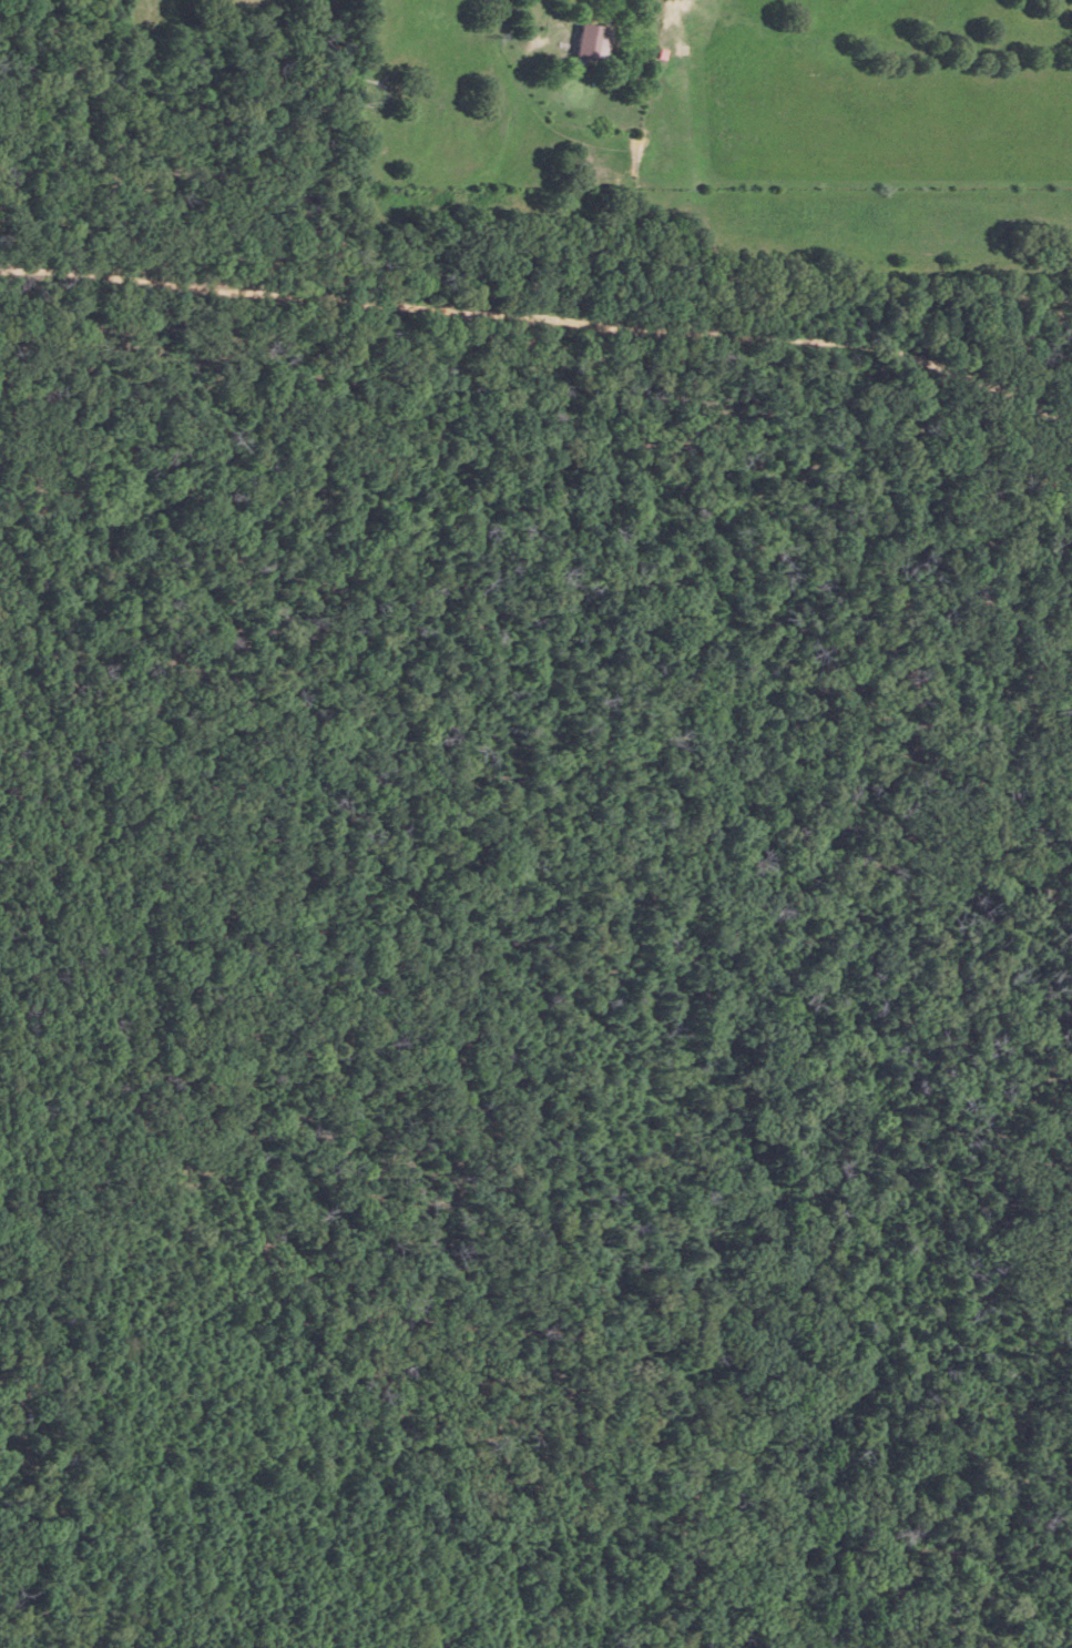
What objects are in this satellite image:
building: (593, 44)
road: (542, 318)
road: (90, 1101)

